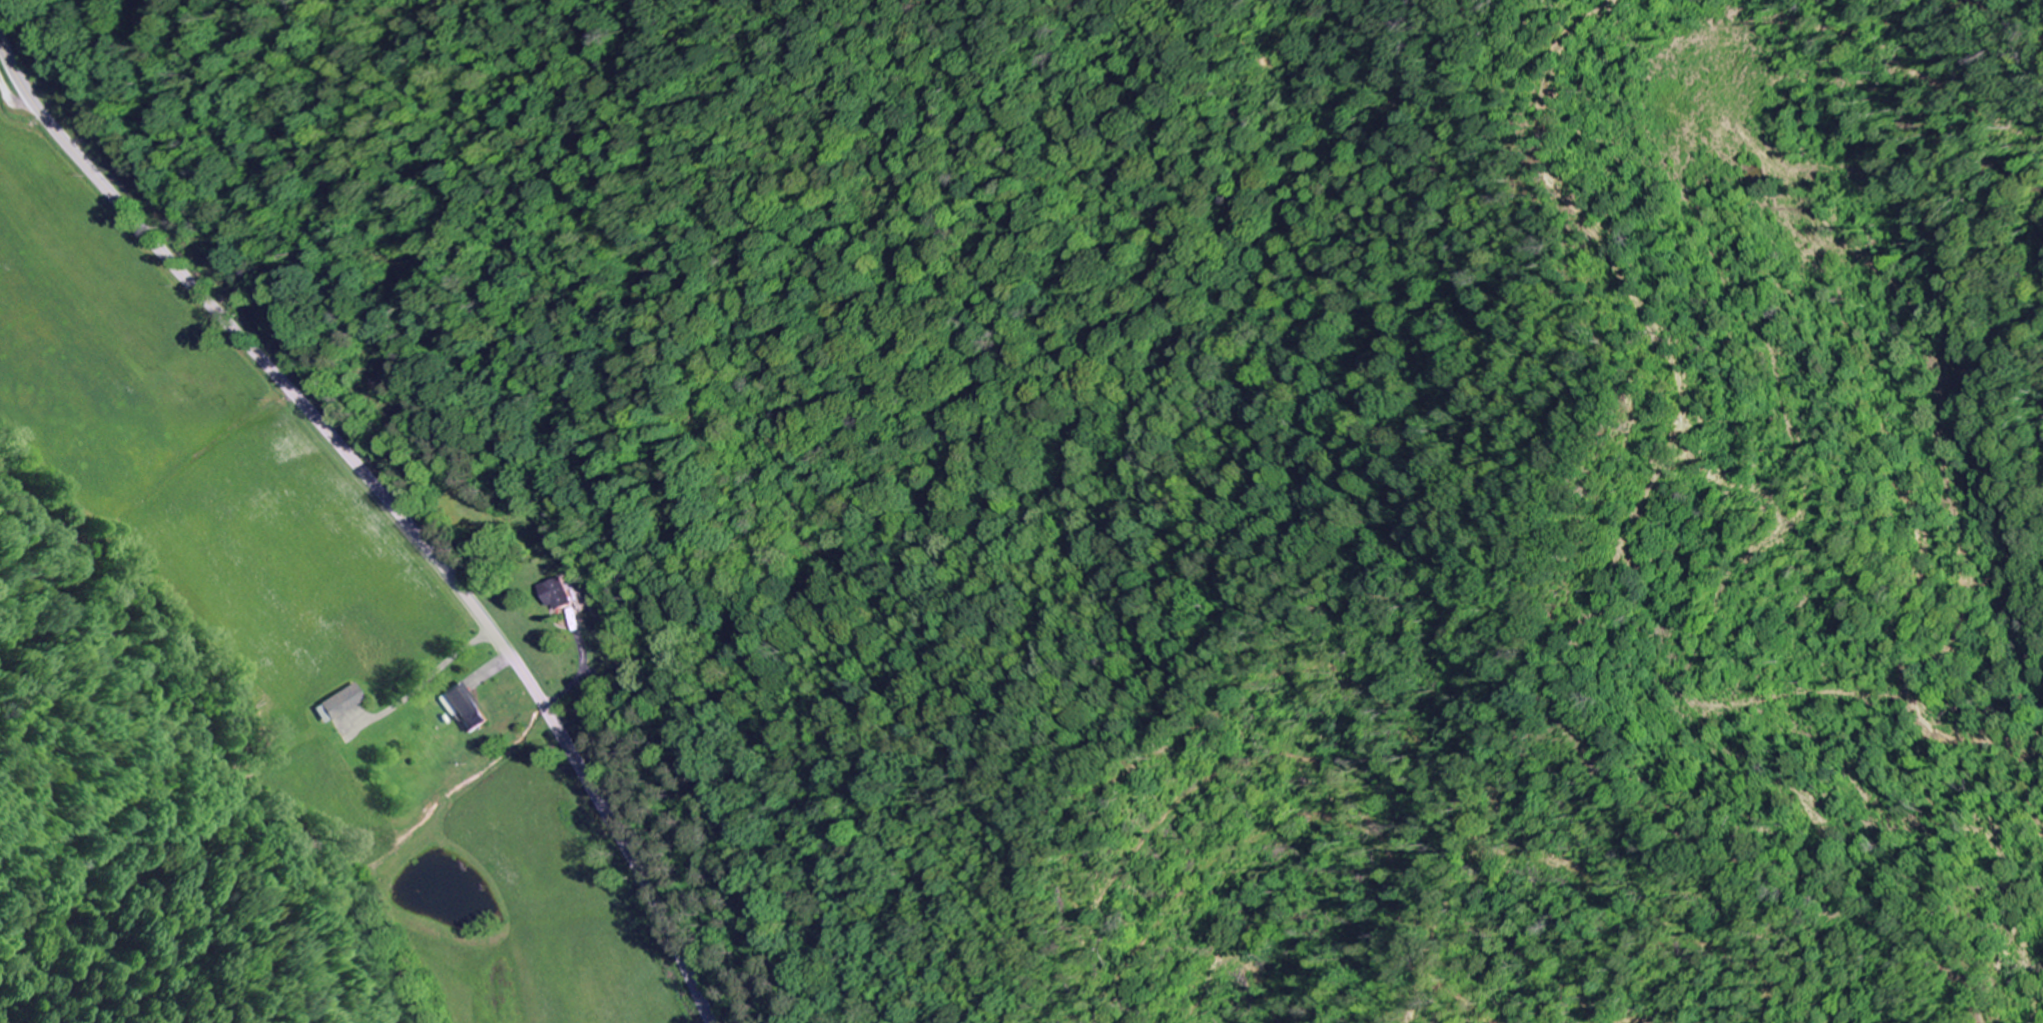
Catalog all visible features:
road: (16, 101)
road: (389, 502)
building: (561, 594)
building: (342, 704)
building: (466, 708)

